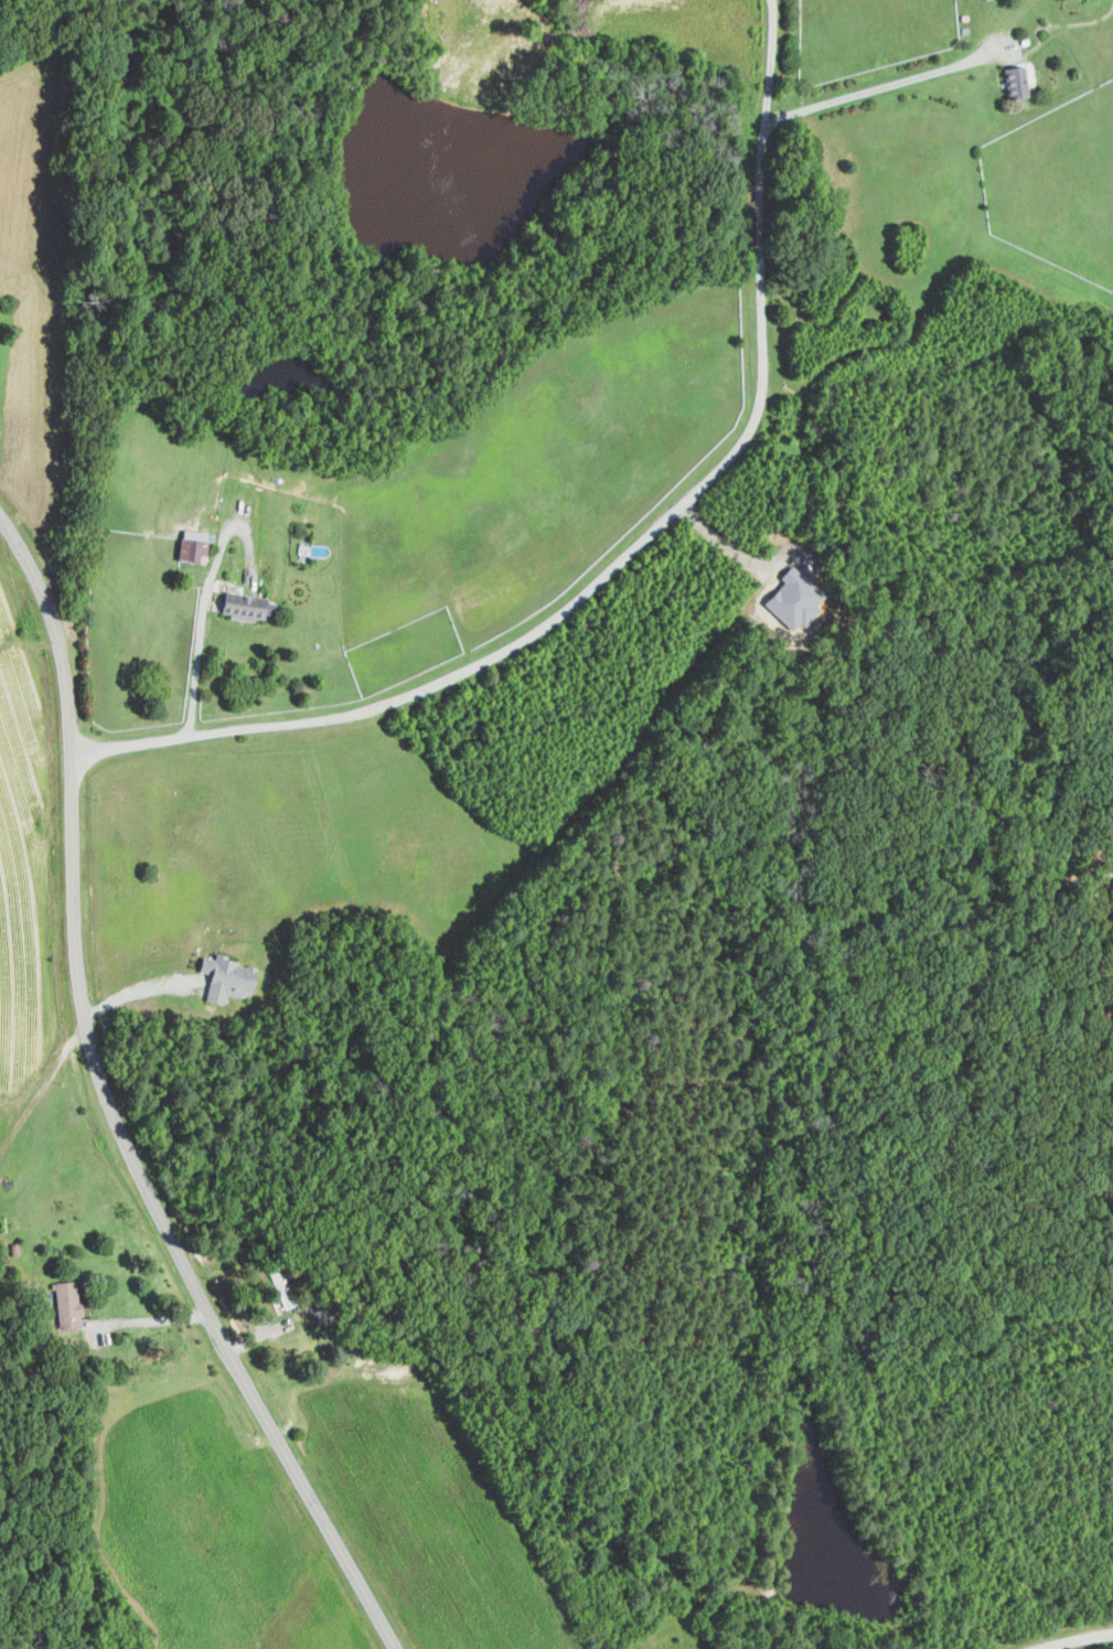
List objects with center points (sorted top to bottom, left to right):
road: (767, 0)
building: (1013, 82)
road: (879, 85)
building: (189, 544)
road: (627, 552)
road: (730, 557)
road: (204, 601)
building: (242, 603)
building: (224, 977)
road: (138, 989)
road: (41, 1083)
road: (110, 1109)
building: (64, 1305)
road: (149, 1318)
road: (1080, 1638)

